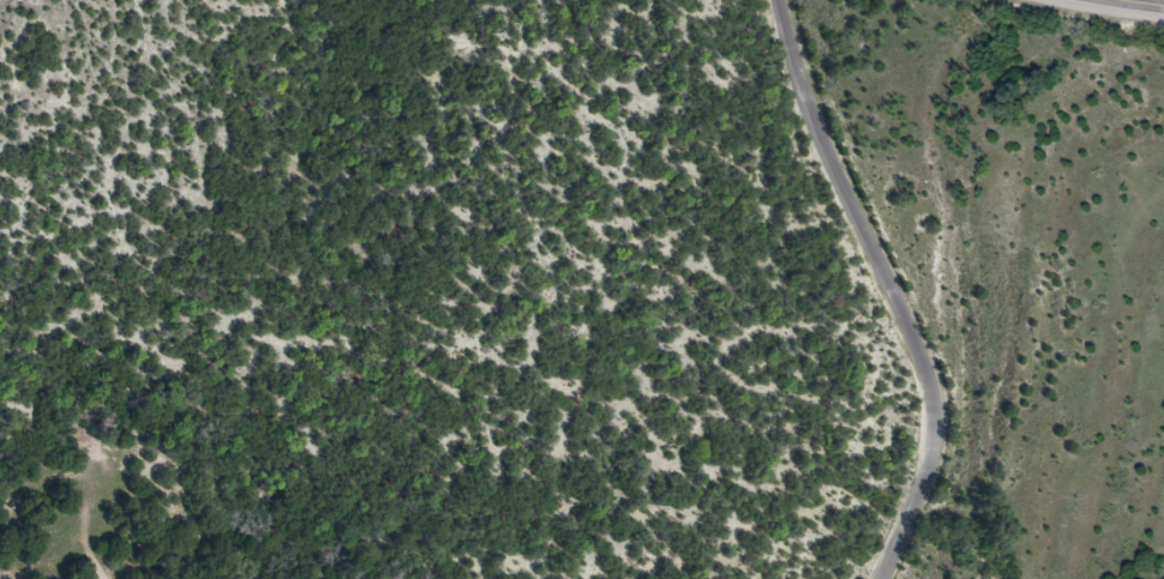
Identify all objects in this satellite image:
road: (1148, 1)
road: (888, 288)

